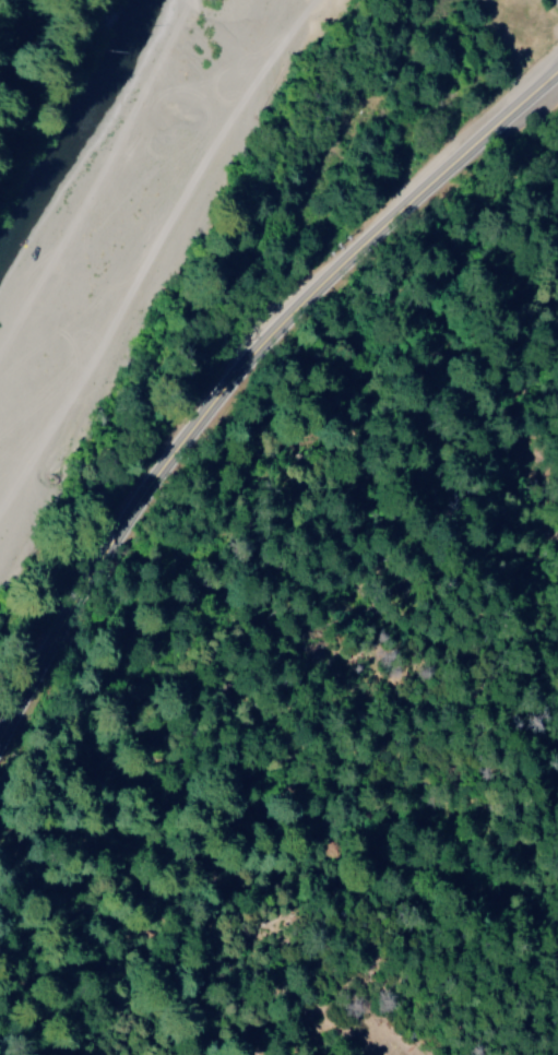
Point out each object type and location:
river: (150, 277)
road: (236, 374)

